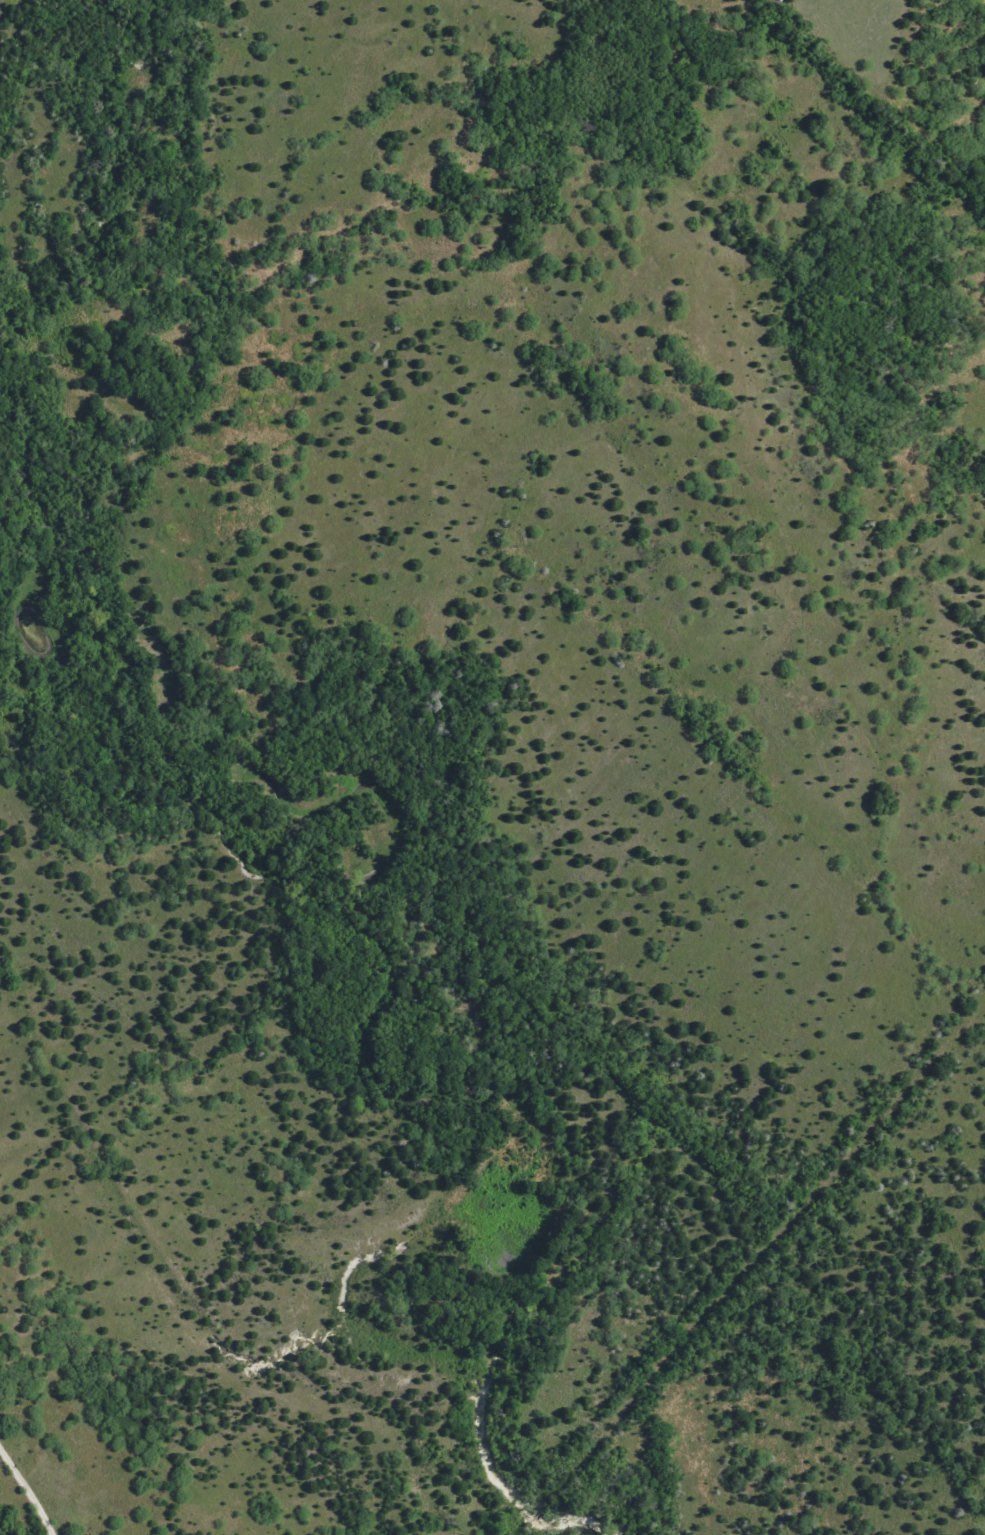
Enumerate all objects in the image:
road: (24, 1490)

